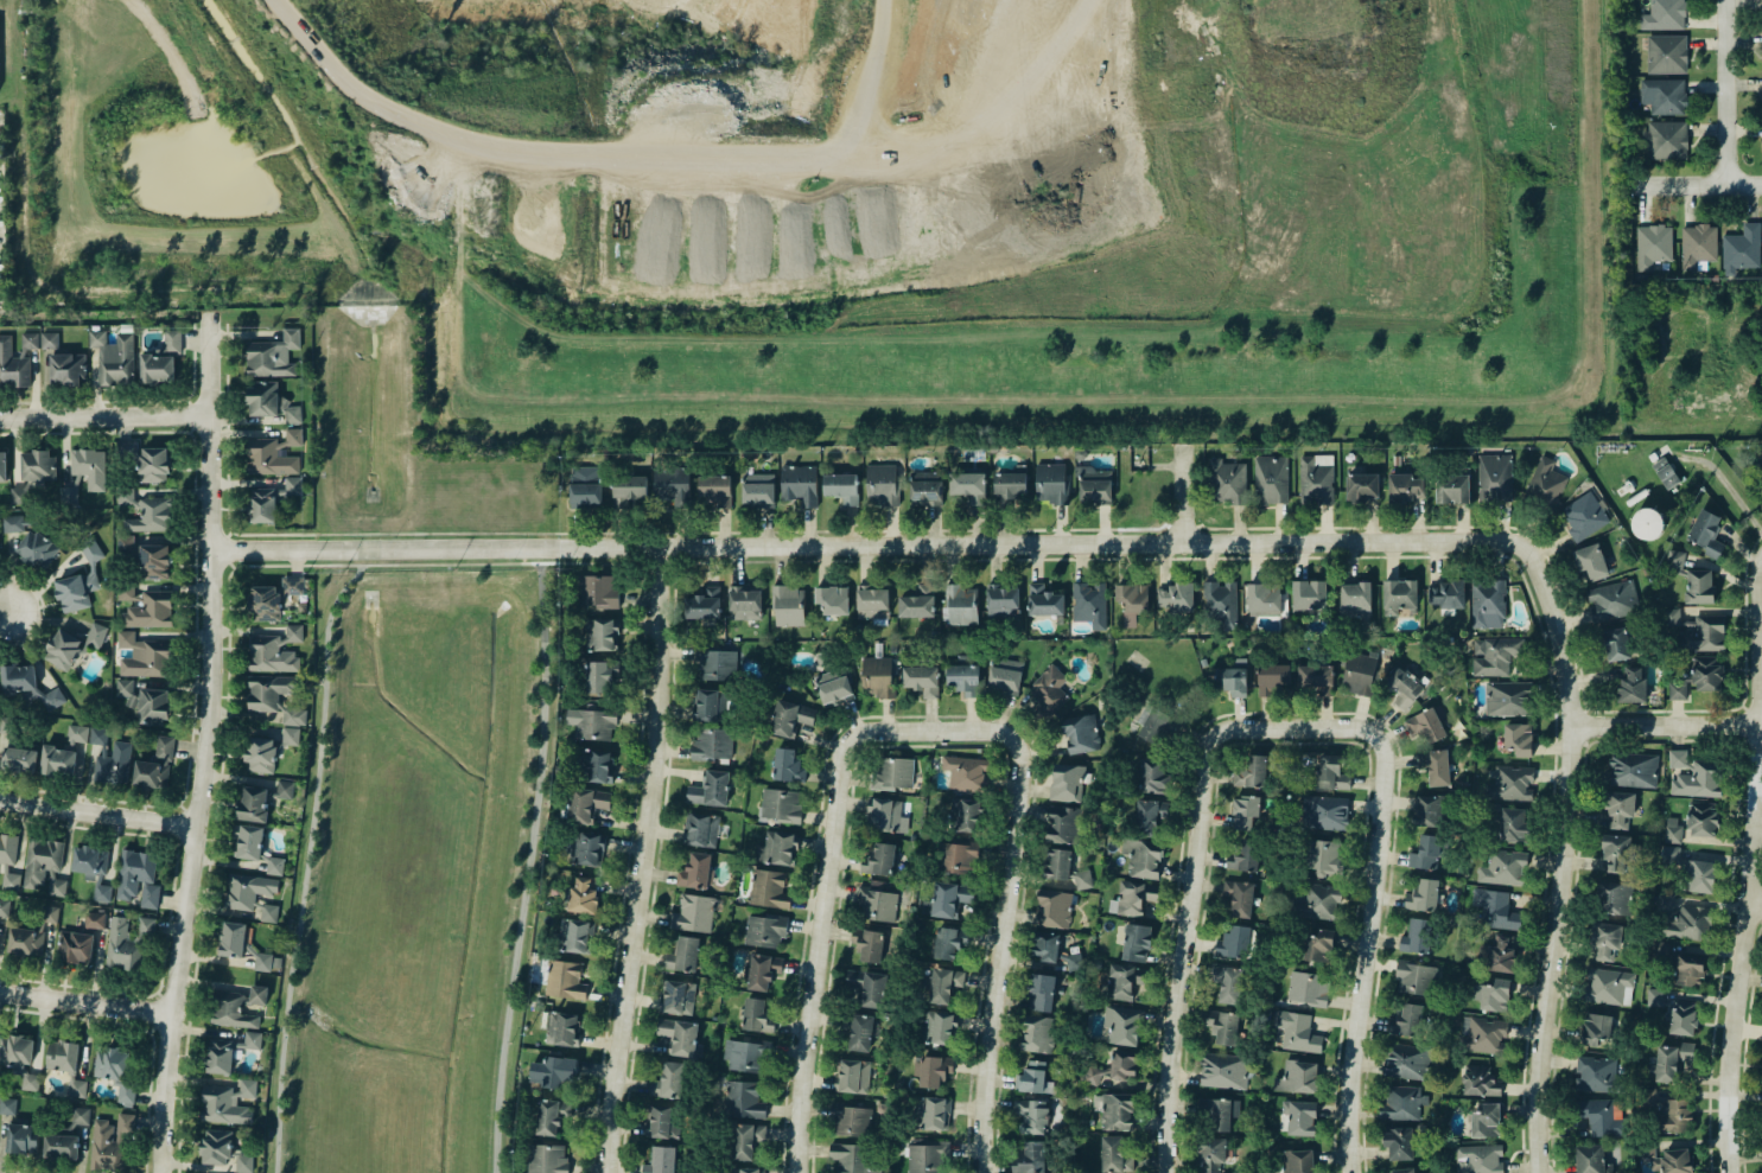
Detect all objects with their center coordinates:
building: (1664, 15)
building: (1666, 53)
road: (876, 64)
road: (1726, 91)
building: (1664, 95)
building: (1666, 139)
road: (603, 155)
road: (1744, 181)
road: (1686, 183)
landfill: (859, 208)
building: (1653, 246)
building: (1742, 249)
building: (49, 339)
building: (30, 340)
building: (273, 355)
building: (114, 357)
building: (161, 359)
building: (12, 365)
building: (66, 368)
road: (186, 399)
road: (129, 400)
building: (272, 402)
road: (103, 414)
road: (189, 414)
road: (187, 428)
street lamp: (5, 429)
building: (126, 448)
building: (269, 458)
building: (38, 465)
building: (153, 465)
building: (2, 466)
building: (90, 467)
building: (1665, 472)
building: (1271, 477)
building: (1495, 477)
building: (1316, 478)
building: (1050, 482)
building: (1226, 482)
building: (672, 483)
building: (1545, 483)
building: (800, 484)
building: (1094, 484)
building: (882, 485)
building: (968, 485)
building: (1010, 485)
building: (925, 486)
building: (1361, 486)
building: (842, 487)
building: (1406, 487)
building: (629, 489)
building: (715, 489)
building: (758, 489)
building: (1452, 489)
building: (585, 490)
road: (1183, 493)
building: (18, 496)
building: (69, 496)
building: (271, 499)
building: (151, 516)
building: (1584, 516)
building: (1647, 523)
building: (1705, 528)
road: (227, 533)
road: (565, 533)
building: (28, 541)
road: (825, 543)
building: (126, 544)
road: (225, 548)
street lamp: (510, 557)
road: (1098, 557)
building: (154, 561)
building: (1673, 561)
road: (419, 562)
building: (1591, 562)
road: (230, 563)
road: (443, 576)
street lamp: (199, 578)
building: (81, 579)
street lamp: (335, 579)
building: (293, 586)
building: (1699, 586)
building: (596, 589)
building: (127, 593)
building: (1310, 594)
building: (1446, 594)
building: (1399, 595)
building: (1177, 597)
building: (1265, 598)
building: (832, 599)
building: (1355, 599)
building: (1044, 600)
building: (1612, 600)
building: (1003, 601)
building: (1132, 601)
building: (265, 603)
building: (744, 603)
building: (918, 603)
building: (1221, 603)
building: (704, 604)
building: (872, 604)
building: (1089, 604)
building: (1488, 604)
road: (1, 605)
building: (788, 605)
building: (961, 605)
road: (40, 608)
building: (151, 610)
road: (193, 612)
road: (1566, 613)
building: (1696, 631)
building: (294, 632)
building: (599, 633)
building: (96, 635)
street lamp: (316, 643)
building: (1615, 643)
building: (63, 650)
building: (271, 655)
building: (144, 656)
building: (1494, 656)
park: (1137, 661)
building: (715, 663)
building: (1706, 674)
building: (879, 676)
building: (1005, 676)
building: (1272, 676)
building: (599, 677)
building: (1235, 677)
building: (1317, 677)
building: (963, 678)
building: (922, 680)
park: (1168, 680)
building: (1379, 680)
building: (28, 686)
building: (834, 686)
building: (1633, 686)
building: (1049, 690)
building: (1678, 690)
building: (127, 691)
building: (276, 697)
building: (1507, 699)
building: (708, 705)
building: (154, 706)
road: (1742, 706)
road: (1583, 707)
road: (1753, 707)
road: (1292, 710)
road: (929, 715)
building: (790, 718)
road: (1667, 721)
building: (593, 722)
road: (1741, 722)
building: (1156, 723)
road: (1582, 725)
building: (1426, 726)
building: (77, 733)
building: (1081, 734)
building: (291, 735)
building: (98, 737)
road: (1750, 737)
building: (1519, 739)
road: (1660, 739)
road: (1735, 740)
road: (1292, 741)
road: (1584, 742)
road: (205, 744)
road: (929, 744)
street lamp: (310, 745)
building: (712, 745)
street lamp: (641, 753)
building: (260, 756)
building: (19, 759)
building: (57, 760)
building: (114, 764)
building: (592, 765)
building: (788, 765)
building: (155, 766)
street lamp: (545, 766)
building: (1436, 766)
building: (1634, 769)
building: (1252, 771)
building: (966, 772)
building: (1331, 772)
building: (892, 773)
building: (1152, 774)
building: (1694, 774)
building: (1067, 782)
building: (1510, 783)
building: (285, 789)
building: (710, 789)
building: (253, 803)
building: (585, 804)
building: (781, 804)
road: (179, 805)
street lamp: (210, 808)
building: (1620, 809)
building: (1427, 810)
road: (98, 811)
building: (1245, 811)
road: (1571, 811)
building: (1324, 812)
building: (885, 814)
building: (967, 814)
building: (1150, 814)
building: (1703, 818)
road: (179, 824)
building: (1063, 824)
building: (1513, 824)
street lamp: (119, 828)
building: (1672, 829)
building: (702, 830)
street lamp: (537, 836)
building: (249, 841)
road: (174, 842)
road: (628, 842)
building: (586, 847)
building: (777, 847)
building: (8, 848)
street lamp: (299, 849)
building: (1426, 853)
building: (1616, 853)
road: (307, 854)
building: (1243, 856)
building: (1323, 856)
road: (206, 858)
building: (958, 858)
building: (1144, 858)
road: (524, 859)
road: (648, 859)
building: (880, 859)
building: (90, 862)
building: (274, 865)
road: (1753, 865)
building: (44, 866)
building: (1063, 868)
building: (1503, 868)
building: (1691, 869)
park: (412, 872)
building: (695, 872)
street lamp: (628, 874)
building: (138, 878)
building: (9, 879)
road: (1761, 888)
building: (248, 890)
building: (769, 890)
building: (102, 892)
building: (583, 894)
building: (1239, 897)
building: (1423, 897)
building: (1614, 897)
building: (1133, 898)
building: (950, 899)
building: (1317, 900)
street lamp: (528, 901)
building: (876, 904)
road: (1756, 904)
road: (1761, 905)
building: (4, 907)
road: (166, 909)
building: (1054, 909)
building: (1495, 909)
road: (1196, 911)
building: (50, 913)
building: (269, 913)
building: (693, 913)
road: (829, 913)
road: (1375, 914)
road: (1011, 916)
building: (1681, 918)
building: (94, 920)
road: (1761, 922)
building: (765, 930)
building: (574, 933)
building: (1417, 937)
building: (233, 939)
building: (24, 941)
building: (127, 941)
building: (949, 941)
building: (1136, 942)
building: (1605, 942)
building: (1234, 943)
building: (871, 944)
building: (1045, 945)
building: (76, 946)
building: (1317, 946)
building: (1660, 949)
street lamp: (285, 952)
building: (683, 955)
building: (1501, 955)
building: (1068, 960)
building: (262, 962)
street lamp: (519, 970)
building: (1688, 970)
building: (763, 971)
building: (564, 978)
building: (1413, 978)
building: (1121, 982)
building: (944, 984)
building: (1229, 984)
building: (1607, 986)
building: (869, 987)
building: (1308, 988)
building: (1041, 992)
road: (157, 993)
building: (259, 994)
building: (1495, 995)
building: (679, 996)
building: (1654, 996)
road: (83, 1006)
street lamp: (635, 1007)
road: (154, 1009)
building: (230, 1009)
building: (757, 1015)
building: (1683, 1018)
building: (1406, 1020)
building: (1122, 1025)
building: (1223, 1025)
building: (560, 1026)
building: (939, 1027)
road: (144, 1028)
road: (148, 1028)
building: (1597, 1028)
building: (1297, 1031)
building: (863, 1032)
building: (1037, 1033)
building: (1483, 1035)
building: (680, 1037)
street lamp: (509, 1039)
building: (253, 1040)
road: (1743, 1051)
building: (217, 1054)
building: (742, 1054)
building: (19, 1059)
building: (1407, 1060)
building: (1671, 1060)
street lamp: (273, 1062)
building: (66, 1064)
building: (1124, 1064)
building: (553, 1070)
building: (934, 1070)
building: (1223, 1071)
building: (115, 1072)
building: (1595, 1073)
building: (1093, 1075)
building: (853, 1076)
building: (1297, 1077)
building: (1035, 1078)
building: (668, 1080)
building: (1480, 1080)
building: (743, 1099)
building: (228, 1102)
building: (1401, 1103)
building: (7, 1105)
building: (1115, 1110)
building: (933, 1113)
building: (1219, 1113)
building: (81, 1115)
building: (551, 1115)
building: (1032, 1115)
building: (1601, 1116)
building: (1675, 1116)
building: (1302, 1117)
street lamp: (172, 1118)
building: (850, 1120)
building: (662, 1121)
building: (1486, 1121)
building: (71, 1128)
street lamp: (621, 1136)
building: (23, 1137)
building: (745, 1140)
building: (110, 1141)
building: (1399, 1143)
building: (62, 1146)
building: (216, 1147)
building: (1646, 1150)
building: (1112, 1153)
building: (850, 1158)
building: (1031, 1158)
building: (1597, 1158)
building: (547, 1159)
building: (923, 1159)
building: (1480, 1159)
street lamp: (266, 1160)
building: (661, 1160)
building: (1675, 1160)
building: (1298, 1161)
building: (243, 1162)
building: (745, 1169)
road: (12, 1171)
building: (1404, 1171)

